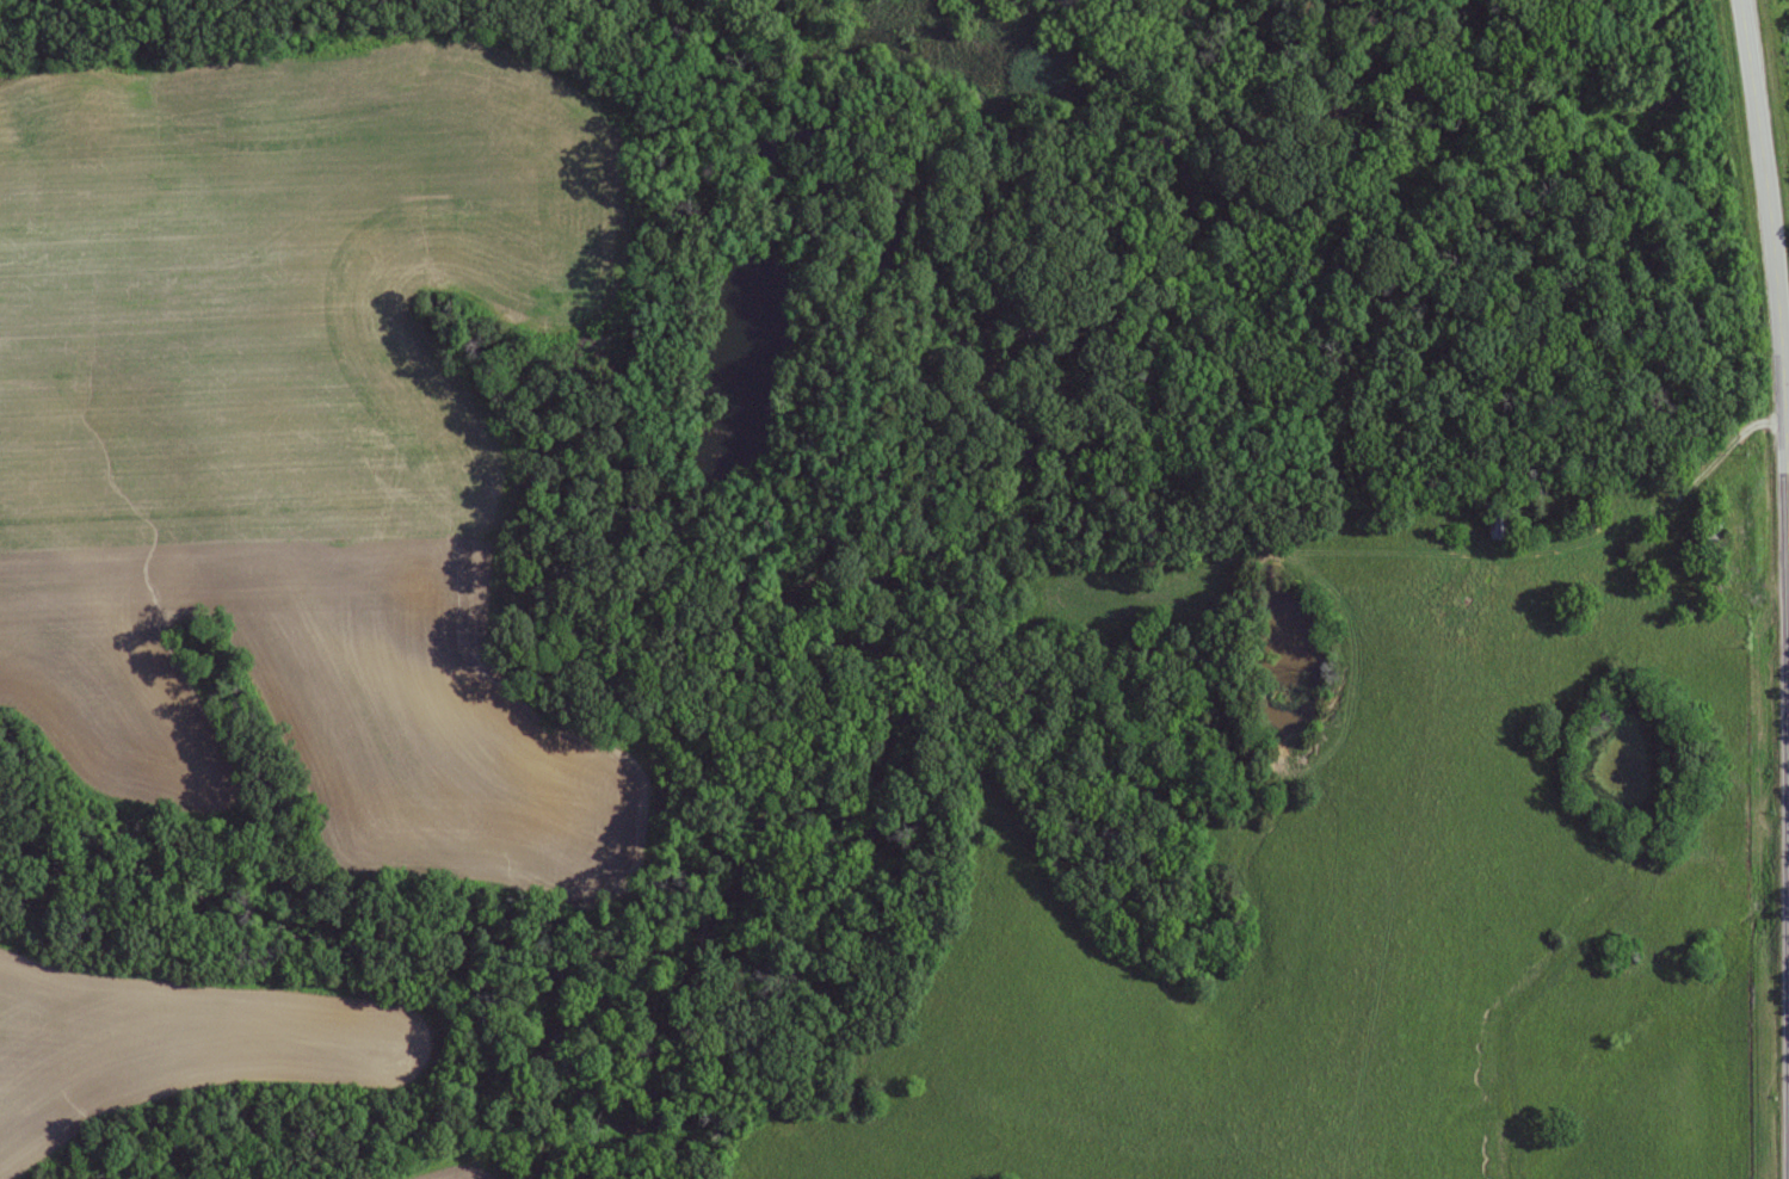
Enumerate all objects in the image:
road: (1771, 235)
road: (1788, 494)

